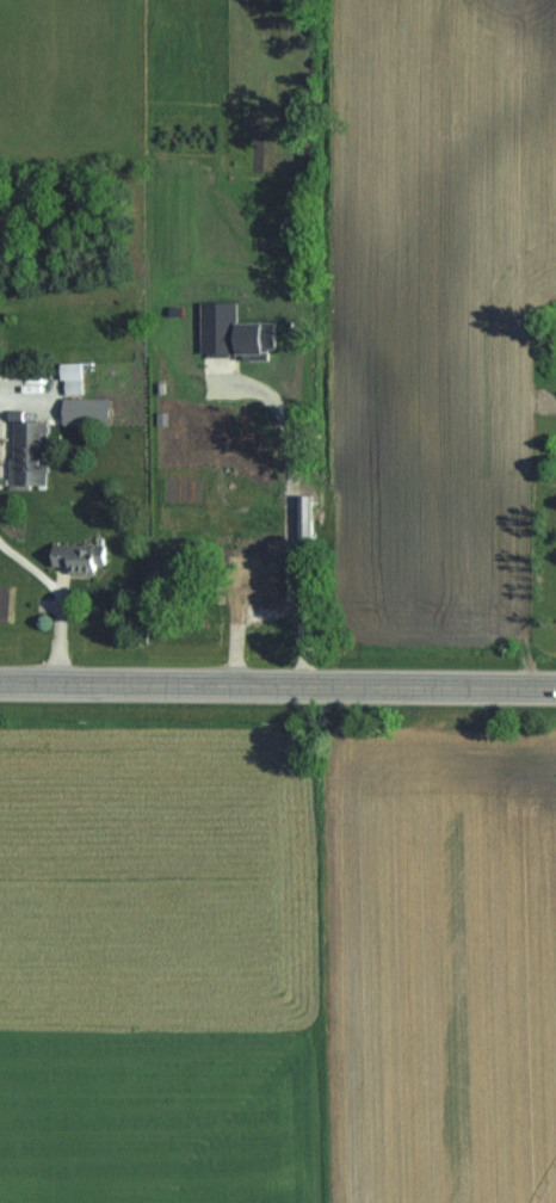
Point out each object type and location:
building: (29, 446)
building: (305, 508)
building: (81, 556)
building: (255, 572)
road: (278, 684)

